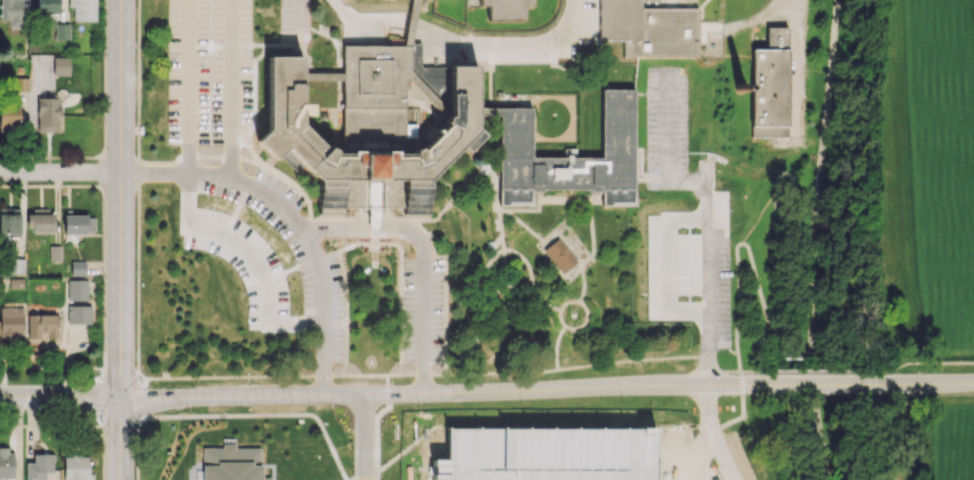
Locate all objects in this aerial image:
road: (655, 1)
building: (47, 6)
building: (83, 9)
building: (508, 9)
building: (12, 12)
road: (747, 21)
road: (301, 23)
building: (412, 23)
road: (349, 29)
building: (650, 29)
building: (61, 31)
road: (801, 31)
road: (334, 38)
road: (463, 40)
road: (250, 47)
building: (61, 65)
parking lot: (208, 71)
road: (580, 76)
road: (138, 80)
building: (20, 84)
road: (188, 85)
road: (232, 88)
building: (772, 89)
chimney: (740, 90)
building: (500, 93)
building: (491, 111)
building: (48, 113)
building: (9, 115)
parking lot: (665, 121)
building: (369, 128)
road: (249, 136)
road: (823, 141)
building: (573, 156)
road: (198, 157)
road: (60, 171)
road: (497, 174)
road: (706, 174)
road: (655, 177)
road: (467, 180)
park: (917, 187)
road: (494, 192)
road: (541, 200)
road: (596, 200)
road: (310, 211)
road: (502, 211)
road: (707, 213)
road: (291, 218)
building: (374, 218)
road: (432, 218)
road: (391, 219)
building: (40, 221)
building: (9, 223)
building: (79, 223)
road: (375, 225)
road: (525, 227)
road: (501, 230)
road: (592, 230)
road: (568, 234)
road: (120, 240)
road: (393, 243)
road: (318, 244)
road: (356, 244)
building: (54, 253)
road: (423, 253)
building: (561, 254)
parking lot: (294, 255)
road: (584, 263)
building: (16, 265)
road: (529, 266)
road: (556, 266)
building: (77, 267)
road: (138, 269)
road: (446, 283)
road: (583, 283)
parking lot: (714, 286)
building: (77, 289)
road: (486, 296)
road: (568, 300)
road: (544, 302)
road: (779, 306)
parking lot: (423, 310)
road: (347, 312)
building: (79, 314)
road: (560, 317)
road: (585, 320)
building: (11, 321)
building: (46, 326)
street lamp: (103, 345)
road: (557, 346)
road: (728, 349)
road: (708, 357)
road: (627, 360)
street lamp: (349, 363)
street lamp: (396, 363)
road: (925, 363)
road: (734, 371)
road: (820, 371)
road: (740, 372)
road: (423, 374)
road: (502, 374)
road: (394, 375)
road: (365, 376)
road: (242, 378)
road: (741, 378)
road: (141, 381)
road: (815, 381)
road: (927, 383)
road: (821, 384)
road: (742, 388)
road: (441, 391)
street lamp: (722, 395)
road: (59, 396)
traffic signals: (119, 396)
street lamp: (620, 396)
street lamp: (520, 399)
road: (142, 400)
street lamp: (417, 403)
street lamp: (308, 406)
street lamp: (186, 408)
road: (262, 416)
road: (376, 421)
street lamp: (349, 423)
street lamp: (135, 427)
road: (564, 428)
road: (711, 434)
road: (364, 436)
park: (907, 439)
street lamp: (730, 444)
road: (137, 447)
road: (580, 448)
parking lot: (578, 455)
street lamp: (385, 457)
road: (433, 461)
building: (6, 463)
building: (39, 466)
building: (76, 467)
road: (365, 476)
road: (376, 477)

